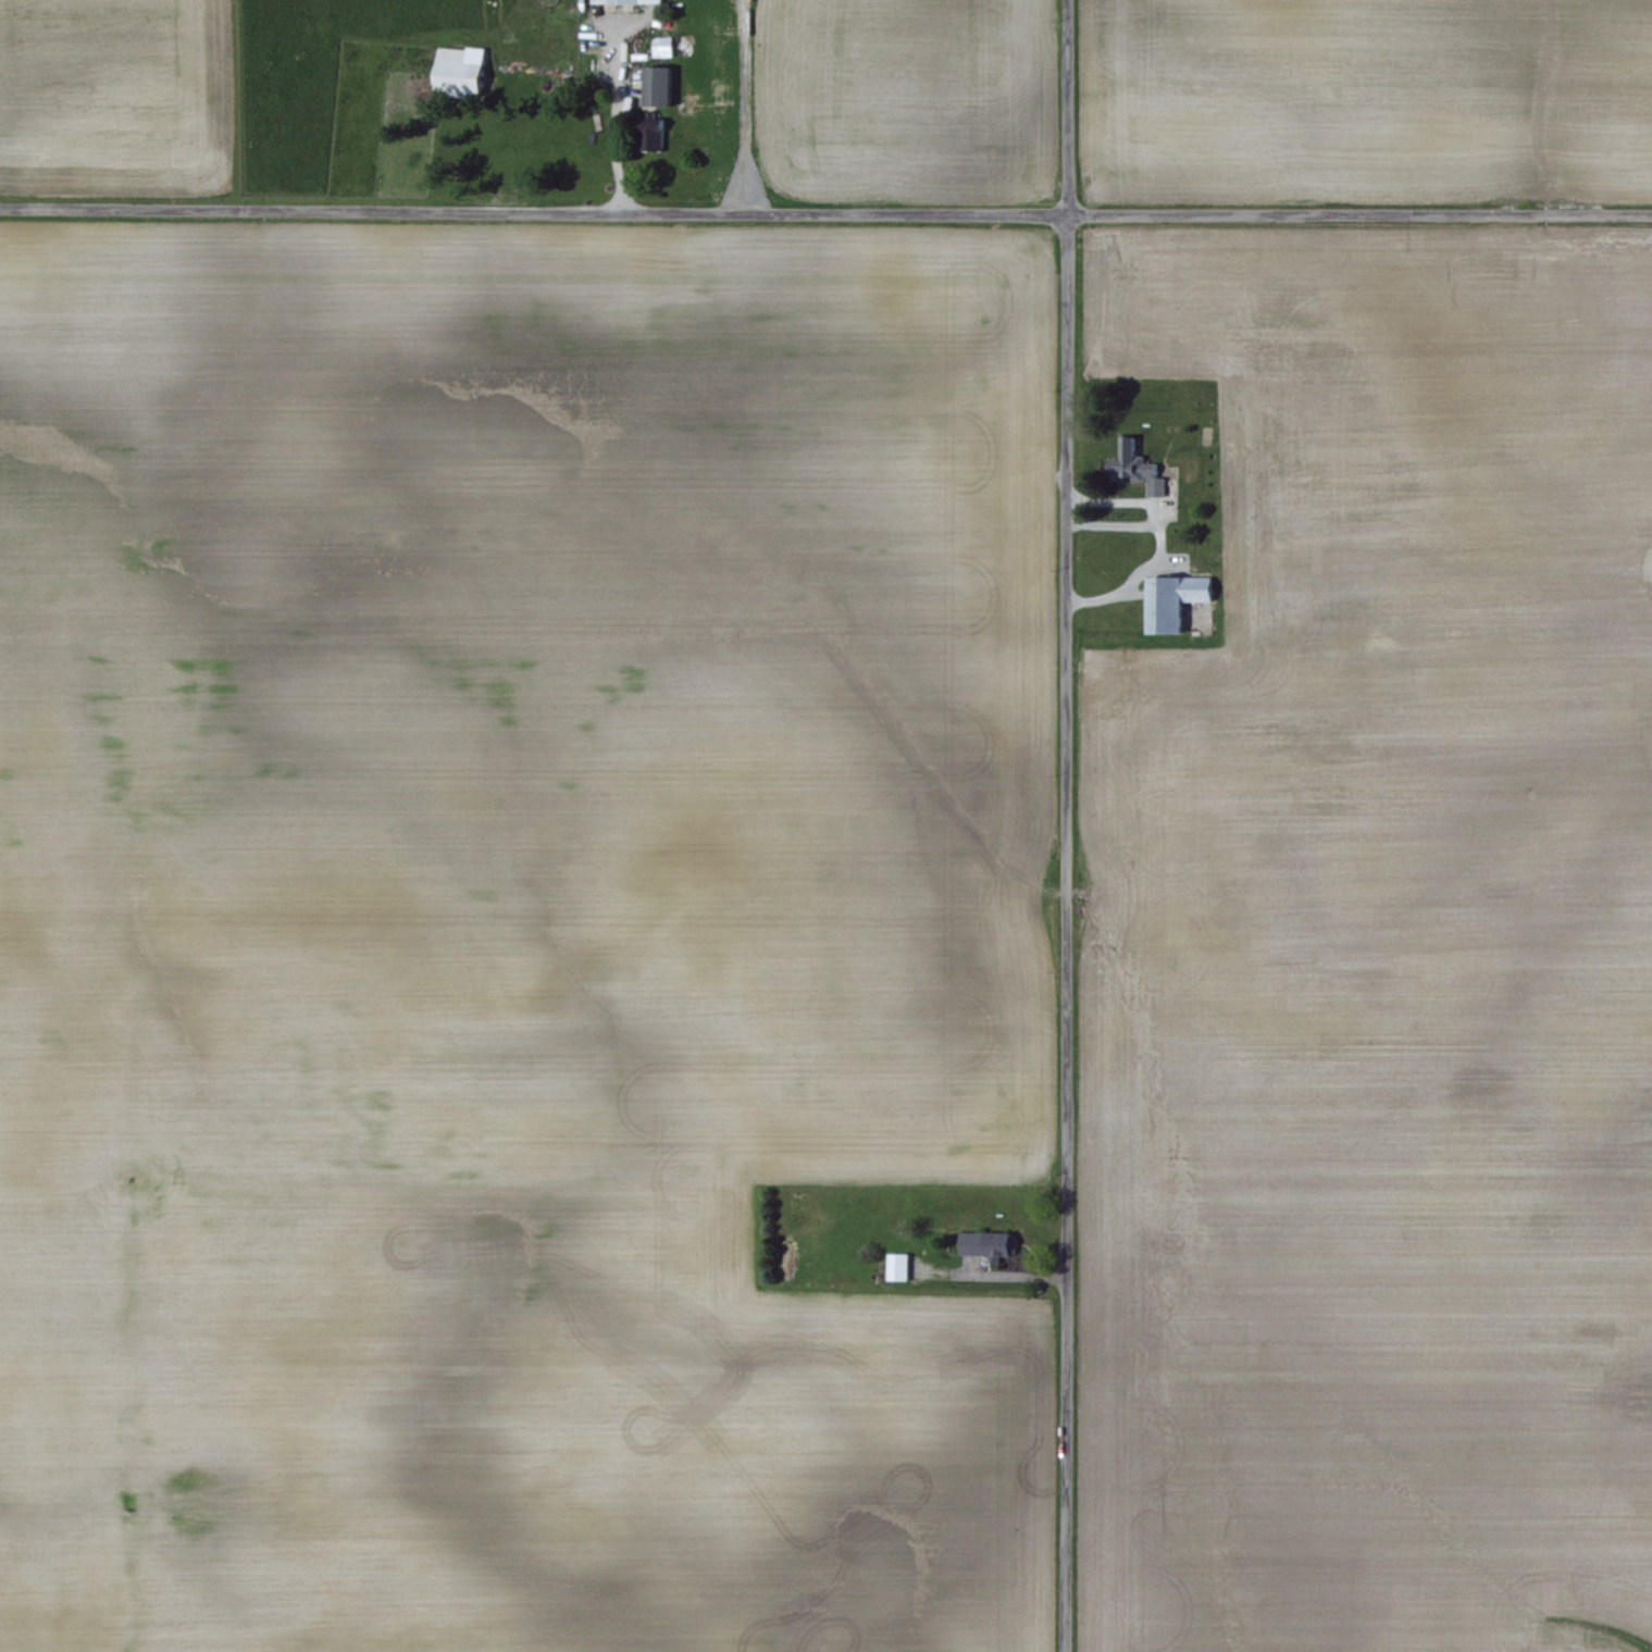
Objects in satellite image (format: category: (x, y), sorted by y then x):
building: (624, 1)
building: (660, 47)
building: (456, 71)
building: (654, 86)
road: (610, 129)
road: (825, 213)
building: (1132, 469)
road: (1104, 524)
road: (1159, 539)
building: (1170, 601)
road: (1053, 825)
building: (985, 1244)
building: (896, 1267)

